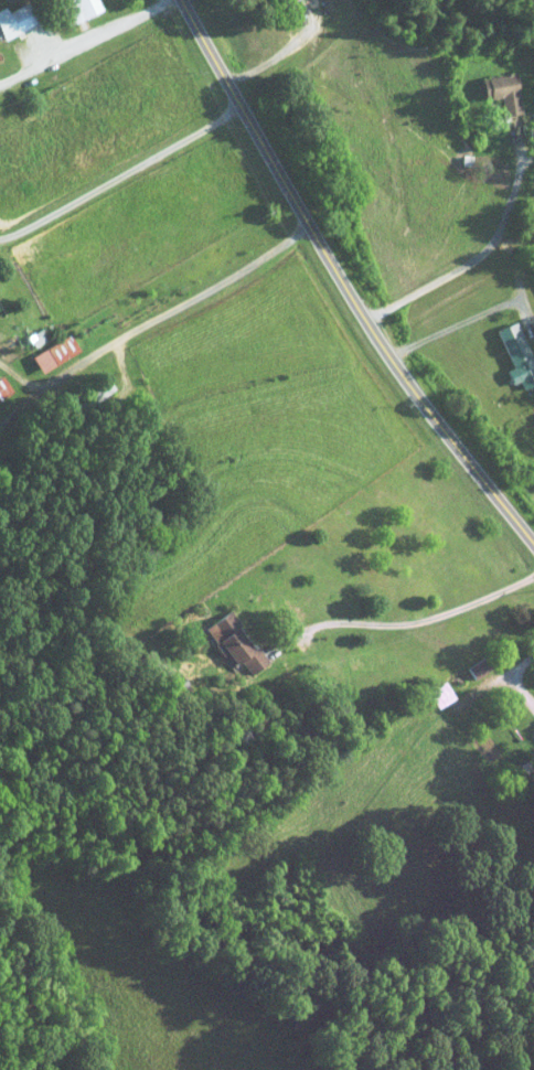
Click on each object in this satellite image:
building: (77, 9)
building: (293, 13)
building: (14, 19)
road: (84, 43)
road: (276, 55)
building: (501, 90)
road: (120, 174)
road: (472, 254)
road: (343, 280)
road: (197, 296)
road: (467, 320)
building: (53, 353)
building: (516, 355)
road: (41, 382)
building: (3, 388)
road: (384, 619)
building: (234, 642)
building: (477, 667)
road: (517, 677)

